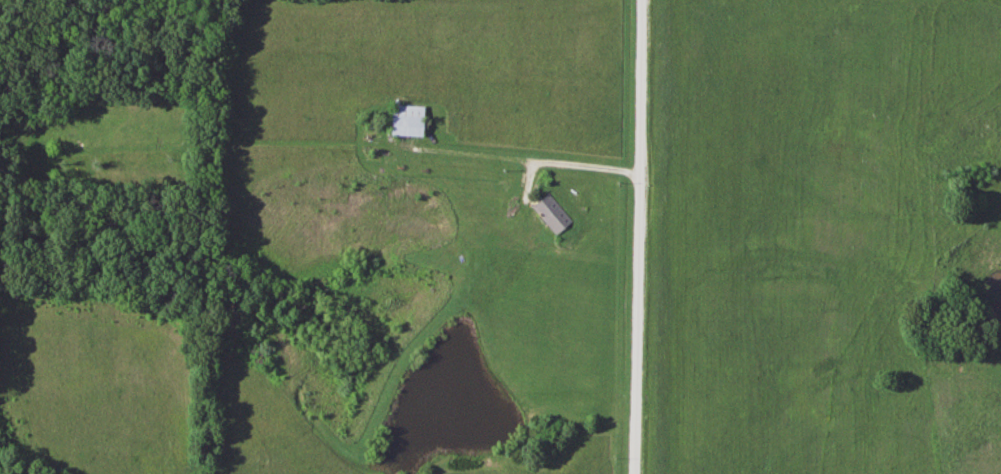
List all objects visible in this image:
building: (404, 121)
road: (517, 157)
building: (551, 214)
road: (639, 237)

